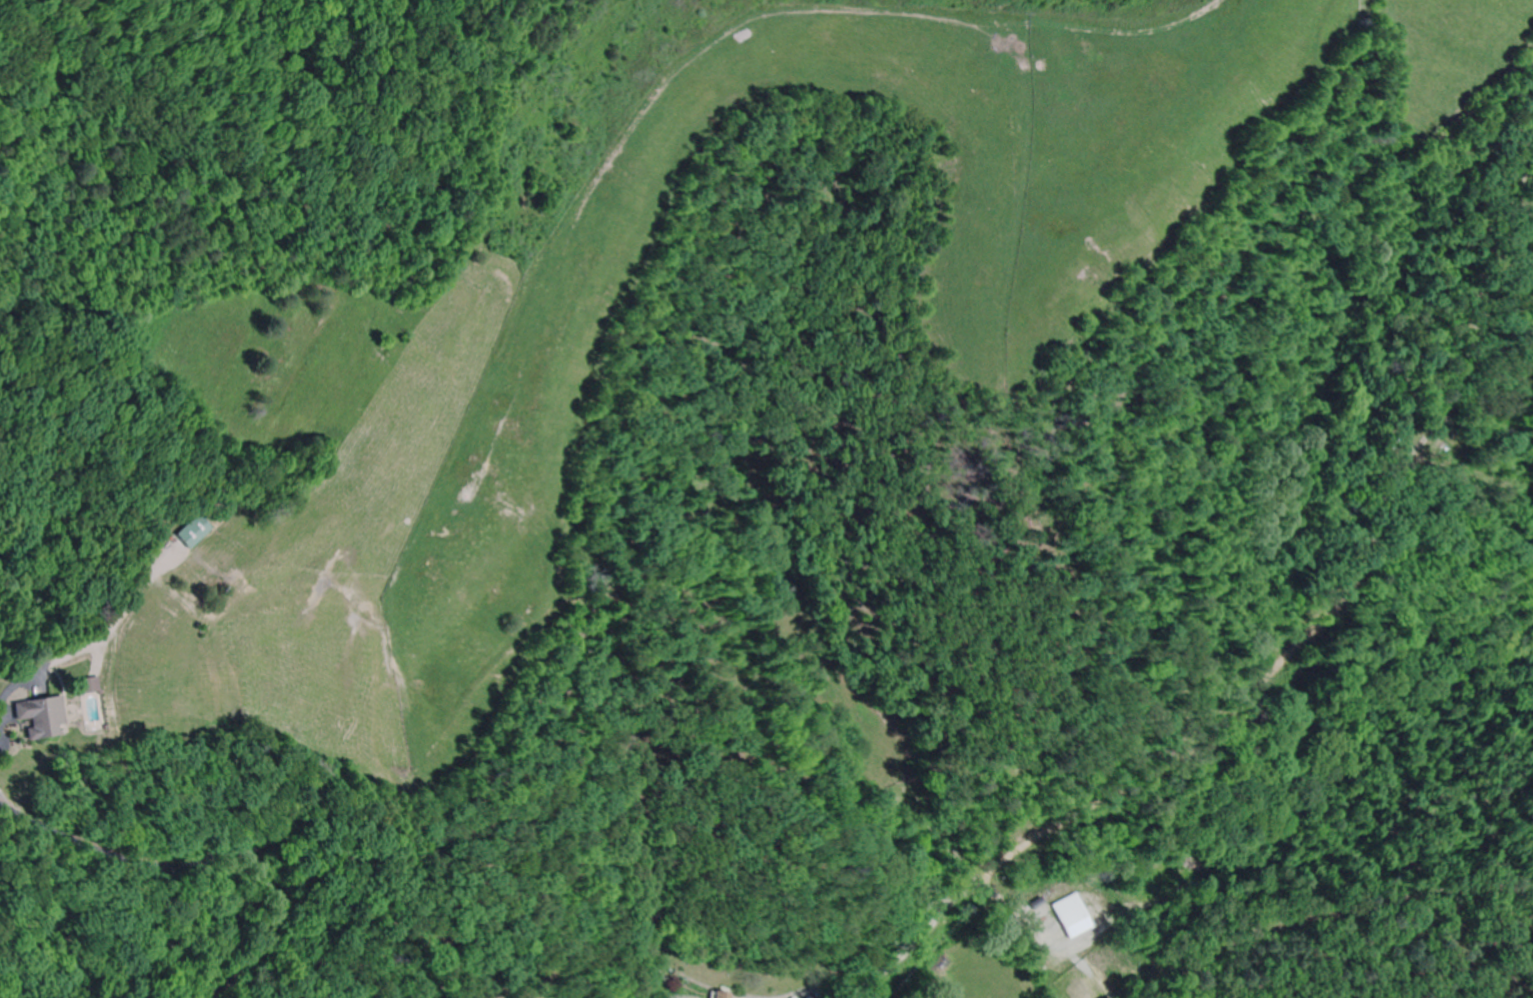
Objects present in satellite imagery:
road: (228, 336)
building: (191, 533)
building: (85, 687)
building: (38, 718)
road: (93, 789)
building: (717, 994)

